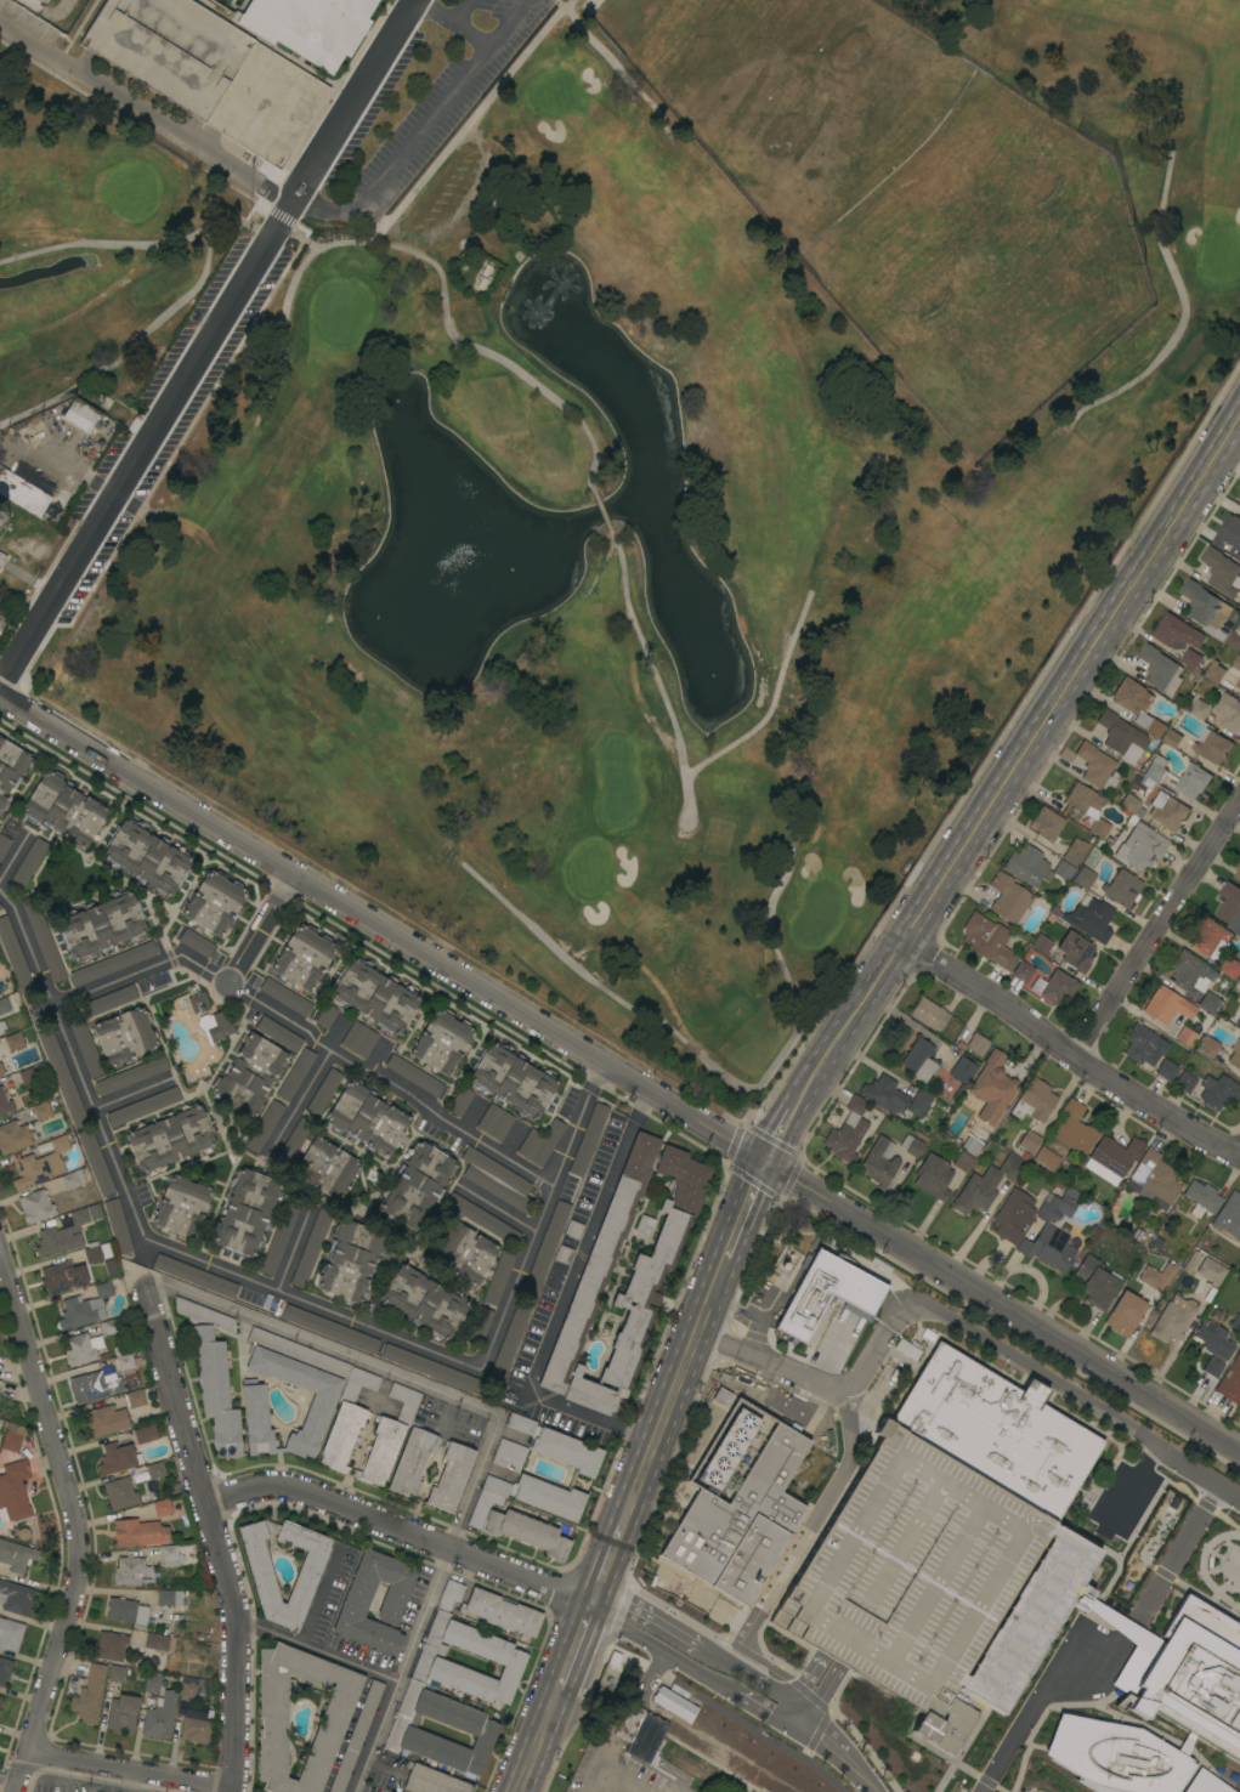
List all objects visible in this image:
building: (44, 1)
road: (460, 11)
road: (505, 22)
building: (311, 27)
road: (617, 67)
building: (208, 72)
road: (146, 113)
road: (429, 120)
road: (470, 120)
road: (164, 242)
road: (443, 289)
road: (1182, 312)
road: (164, 314)
road: (209, 341)
building: (80, 415)
building: (0, 452)
park: (613, 456)
building: (22, 493)
building: (1239, 499)
road: (601, 511)
building: (1228, 533)
building: (1239, 556)
building: (1, 557)
building: (1221, 572)
building: (1205, 608)
building: (1, 620)
building: (1176, 633)
building: (1233, 639)
building: (1190, 658)
building: (1236, 663)
building: (1160, 669)
building: (1213, 673)
road: (653, 674)
building: (1238, 684)
road: (771, 703)
building: (1137, 705)
building: (1200, 709)
building: (1229, 713)
building: (0, 736)
building: (1121, 736)
building: (1171, 738)
building: (1211, 745)
road: (1023, 754)
building: (1097, 766)
building: (11, 767)
building: (1155, 769)
building: (1191, 781)
building: (1132, 804)
building: (1087, 806)
building: (63, 809)
building: (0, 810)
building: (1167, 811)
building: (1047, 823)
building: (4, 844)
building: (1140, 846)
building: (1075, 851)
building: (147, 857)
building: (28, 863)
building: (1034, 866)
building: (1088, 868)
building: (1238, 872)
building: (1122, 888)
building: (1009, 898)
building: (214, 902)
building: (0, 906)
building: (1230, 906)
building: (1088, 919)
building: (102, 925)
road: (1155, 926)
road: (381, 928)
road: (261, 929)
building: (1210, 937)
building: (44, 938)
building: (987, 940)
building: (197, 942)
building: (1041, 943)
building: (1075, 951)
building: (15, 957)
building: (304, 957)
road: (193, 962)
building: (113, 963)
building: (1230, 968)
building: (1023, 971)
building: (1191, 972)
road: (106, 985)
building: (1054, 987)
building: (374, 996)
building: (285, 997)
building: (109, 1000)
building: (198, 1002)
building: (1208, 1002)
building: (5, 1004)
building: (1167, 1005)
building: (929, 1014)
building: (327, 1015)
building: (1238, 1021)
building: (220, 1026)
building: (1, 1030)
building: (279, 1033)
building: (125, 1036)
building: (1187, 1037)
building: (359, 1039)
building: (15, 1040)
building: (442, 1042)
building: (976, 1044)
building: (1143, 1045)
building: (86, 1047)
building: (1208, 1047)
road: (1069, 1054)
building: (1235, 1055)
road: (73, 1060)
building: (919, 1060)
building: (5, 1066)
building: (962, 1070)
building: (1166, 1070)
building: (295, 1073)
building: (0, 1074)
building: (414, 1074)
building: (28, 1076)
building: (131, 1076)
building: (249, 1076)
building: (63, 1078)
building: (513, 1079)
building: (1185, 1082)
road: (389, 1083)
road: (736, 1084)
building: (993, 1087)
building: (323, 1091)
building: (1218, 1091)
road: (131, 1094)
building: (884, 1094)
building: (460, 1100)
building: (1034, 1100)
road: (299, 1101)
building: (5, 1102)
building: (919, 1104)
building: (856, 1105)
building: (143, 1106)
building: (41, 1110)
building: (367, 1118)
building: (496, 1122)
road: (576, 1123)
building: (265, 1125)
road: (782, 1128)
building: (1075, 1129)
building: (13, 1136)
building: (170, 1138)
building: (847, 1138)
building: (588, 1139)
building: (1030, 1140)
building: (294, 1141)
building: (510, 1141)
building: (540, 1141)
building: (972, 1144)
building: (911, 1145)
building: (1046, 1158)
building: (1112, 1158)
building: (96, 1162)
traffic signals: (761, 1162)
building: (879, 1162)
building: (963, 1162)
building: (43, 1164)
building: (327, 1168)
building: (933, 1176)
building: (1154, 1176)
building: (72, 1179)
building: (497, 1179)
building: (418, 1185)
building: (986, 1185)
building: (1201, 1198)
building: (35, 1206)
building: (182, 1206)
building: (1055, 1207)
building: (247, 1212)
road: (742, 1213)
building: (1013, 1215)
building: (1229, 1215)
building: (482, 1219)
building: (645, 1223)
building: (118, 1225)
building: (573, 1229)
building: (279, 1235)
building: (62, 1236)
road: (293, 1248)
building: (311, 1248)
building: (1048, 1248)
building: (544, 1249)
building: (464, 1252)
building: (92, 1253)
building: (564, 1254)
building: (351, 1260)
building: (1191, 1261)
building: (1211, 1270)
road: (517, 1274)
building: (196, 1275)
building: (646, 1275)
building: (64, 1276)
building: (498, 1277)
building: (1156, 1277)
building: (1095, 1283)
building: (825, 1292)
building: (424, 1300)
road: (310, 1302)
road: (561, 1304)
building: (85, 1306)
road: (1001, 1306)
building: (1125, 1314)
building: (1173, 1320)
building: (1235, 1322)
building: (480, 1325)
building: (329, 1328)
building: (1214, 1339)
building: (510, 1340)
building: (81, 1348)
building: (299, 1351)
building: (124, 1361)
building: (430, 1367)
building: (1212, 1367)
building: (213, 1372)
building: (1230, 1382)
road: (825, 1383)
building: (95, 1386)
building: (723, 1396)
building: (134, 1397)
road: (1082, 1402)
building: (319, 1411)
building: (256, 1417)
building: (106, 1420)
building: (347, 1420)
building: (145, 1434)
road: (657, 1435)
building: (387, 1436)
building: (11, 1437)
building: (729, 1450)
road: (485, 1452)
building: (509, 1454)
building: (118, 1458)
building: (576, 1458)
building: (412, 1461)
building: (155, 1470)
building: (451, 1476)
building: (15, 1490)
building: (120, 1492)
building: (162, 1507)
building: (1109, 1520)
building: (740, 1522)
building: (516, 1526)
road: (805, 1527)
road: (78, 1530)
building: (138, 1532)
road: (402, 1533)
road: (217, 1535)
building: (936, 1536)
parking garage: (936, 1536)
building: (1194, 1541)
building: (17, 1555)
building: (169, 1555)
building: (131, 1571)
building: (307, 1576)
building: (1157, 1587)
building: (449, 1594)
building: (16, 1598)
building: (169, 1598)
building: (357, 1598)
building: (128, 1611)
building: (502, 1611)
building: (1027, 1621)
building: (1194, 1621)
building: (10, 1634)
building: (159, 1641)
road: (695, 1644)
building: (111, 1645)
road: (1109, 1645)
road: (573, 1652)
building: (5, 1668)
road: (686, 1669)
building: (117, 1673)
building: (1188, 1677)
building: (152, 1682)
building: (188, 1692)
building: (90, 1694)
building: (489, 1694)
building: (0, 1701)
building: (272, 1708)
building: (191, 1709)
building: (123, 1713)
building: (160, 1716)
road: (624, 1723)
building: (194, 1730)
building: (357, 1734)
building: (641, 1734)
road: (373, 1735)
road: (538, 1745)
road: (834, 1747)
building: (659, 1764)
building: (693, 1764)
road: (135, 1769)
road: (12, 1776)
building: (432, 1780)
building: (1205, 1784)
parking lot: (61, 1785)
building: (1239, 1788)

